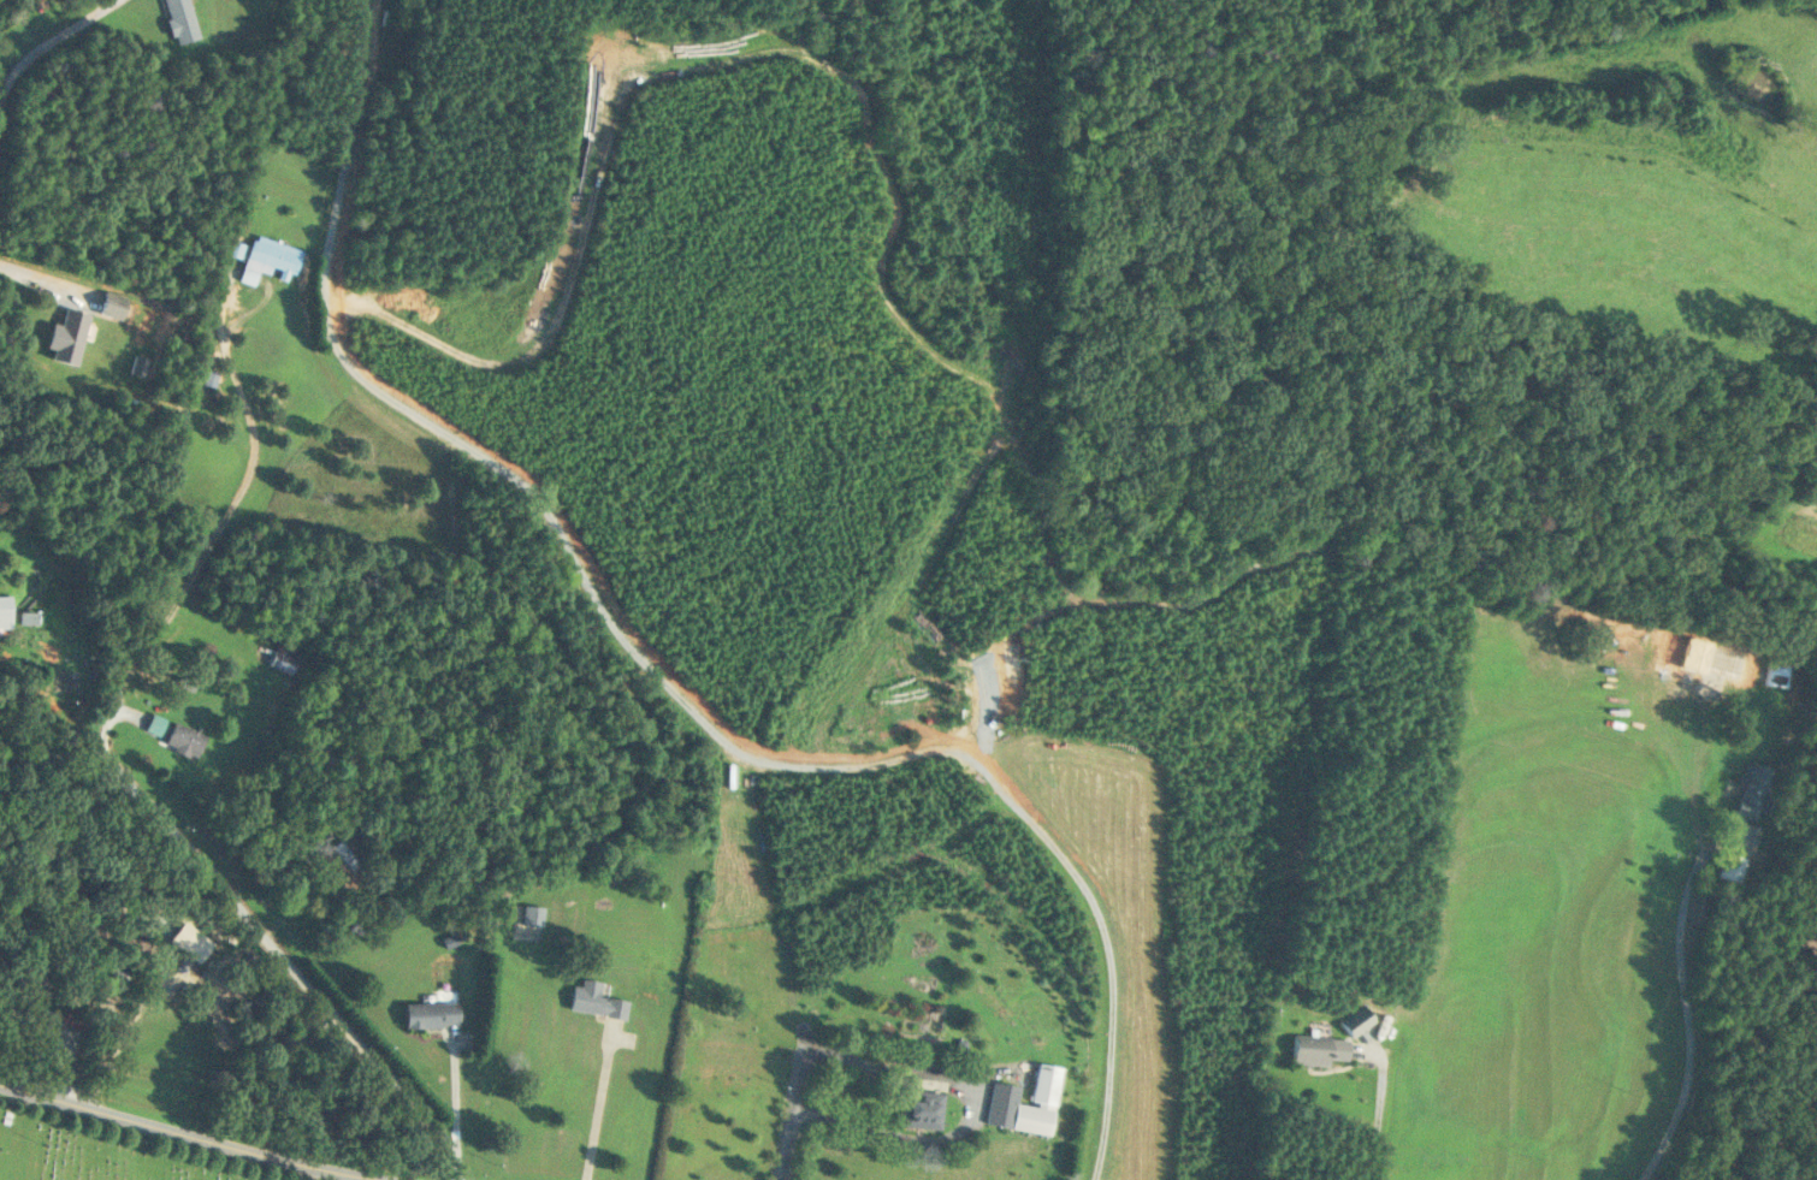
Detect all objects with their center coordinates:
building: (180, 20)
road: (48, 42)
building: (268, 259)
building: (112, 306)
road: (217, 530)
building: (5, 605)
building: (284, 657)
building: (1724, 660)
building: (1777, 674)
building: (184, 739)
building: (1752, 789)
building: (345, 855)
building: (1730, 866)
building: (532, 914)
road: (254, 926)
road: (830, 970)
building: (32, 980)
building: (596, 997)
road: (1687, 1001)
building: (431, 1013)
building: (75, 1019)
building: (1357, 1020)
building: (1318, 1049)
building: (1004, 1093)
road: (455, 1098)
road: (599, 1108)
building: (921, 1109)
road: (1381, 1109)
road: (185, 1134)
park: (100, 1154)

